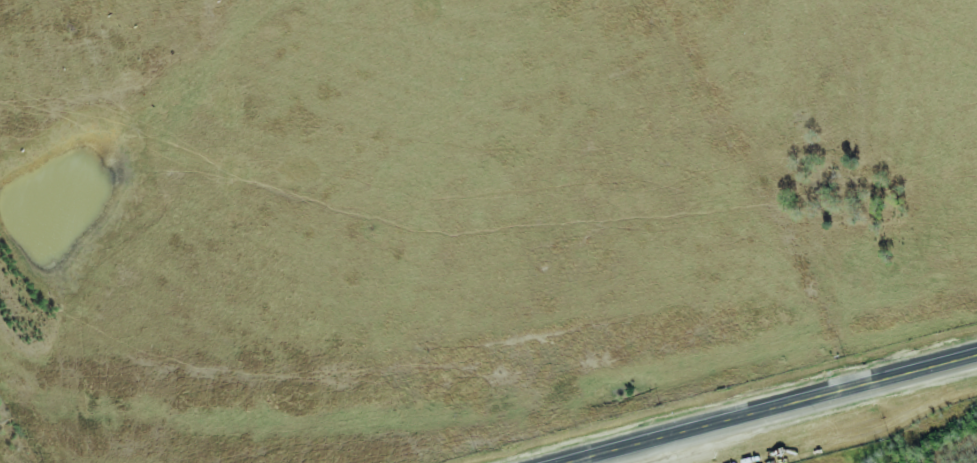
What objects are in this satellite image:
road: (773, 189)
road: (777, 410)

